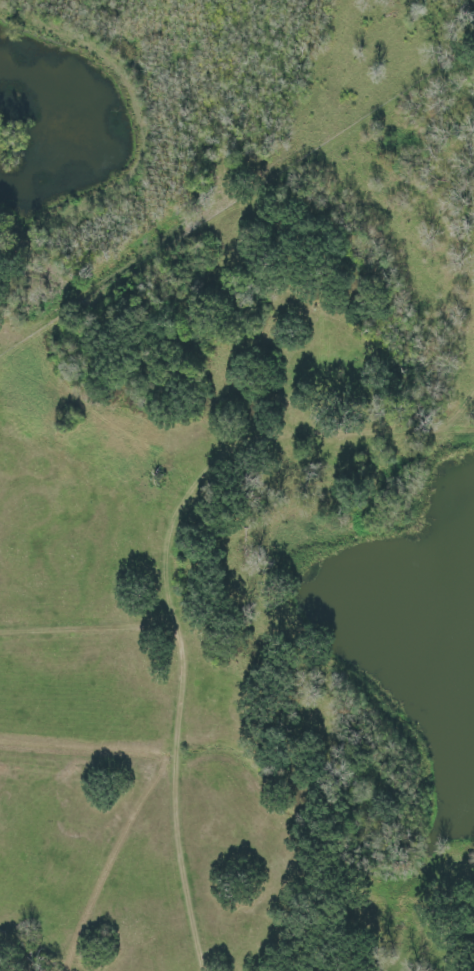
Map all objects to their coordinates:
road: (182, 706)

